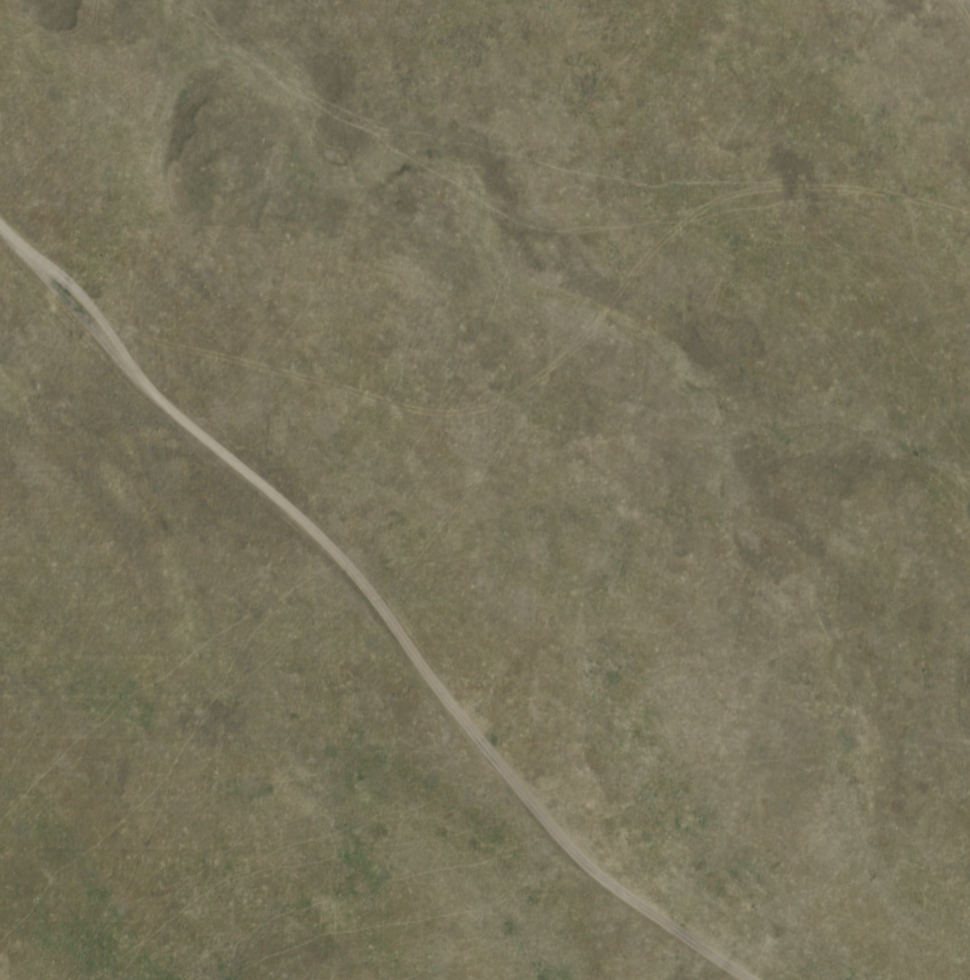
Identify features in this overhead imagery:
road: (959, 22)
road: (363, 605)

